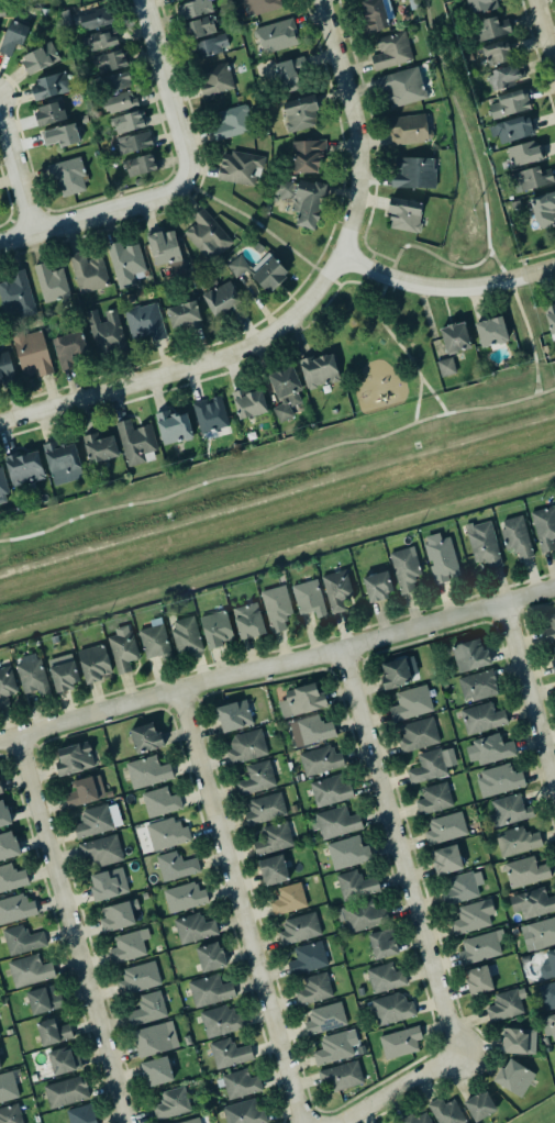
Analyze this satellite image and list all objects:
building: (176, 0)
building: (480, 4)
building: (258, 5)
building: (193, 8)
building: (1, 12)
building: (375, 14)
building: (95, 16)
building: (198, 26)
building: (490, 27)
building: (13, 35)
building: (276, 35)
road: (542, 38)
building: (100, 41)
building: (211, 44)
building: (391, 51)
building: (497, 53)
building: (40, 58)
building: (110, 59)
building: (289, 71)
building: (504, 76)
building: (214, 78)
building: (114, 80)
building: (49, 86)
building: (401, 87)
road: (165, 89)
building: (119, 102)
building: (509, 104)
building: (299, 112)
building: (49, 113)
building: (231, 121)
building: (127, 122)
road: (354, 126)
building: (407, 130)
building: (513, 130)
building: (62, 135)
building: (133, 141)
park: (466, 144)
building: (524, 154)
building: (309, 156)
building: (141, 165)
building: (238, 166)
road: (15, 171)
building: (412, 173)
building: (67, 174)
building: (534, 177)
road: (484, 197)
building: (300, 199)
building: (544, 210)
road: (93, 214)
building: (404, 214)
park: (266, 229)
building: (206, 235)
road: (364, 240)
road: (281, 242)
building: (166, 249)
road: (321, 253)
road: (432, 254)
road: (371, 255)
road: (384, 255)
building: (125, 263)
building: (260, 270)
road: (309, 271)
building: (88, 273)
building: (49, 281)
road: (446, 289)
building: (16, 293)
building: (220, 298)
road: (322, 307)
building: (181, 314)
building: (550, 318)
building: (143, 323)
building: (106, 332)
building: (491, 332)
building: (455, 336)
building: (68, 345)
road: (401, 346)
building: (32, 353)
building: (457, 362)
building: (446, 367)
building: (5, 368)
road: (188, 368)
building: (317, 370)
building: (282, 381)
road: (433, 393)
building: (248, 402)
building: (210, 418)
building: (171, 426)
park: (314, 429)
building: (135, 442)
building: (100, 447)
building: (59, 456)
road: (277, 463)
building: (23, 466)
building: (3, 489)
building: (544, 526)
building: (515, 536)
building: (484, 544)
building: (441, 558)
building: (393, 576)
building: (335, 588)
building: (308, 598)
building: (275, 607)
building: (248, 621)
building: (214, 629)
building: (548, 629)
building: (186, 635)
building: (155, 642)
building: (122, 651)
building: (470, 655)
building: (552, 660)
building: (95, 663)
road: (277, 666)
building: (65, 674)
building: (395, 674)
building: (32, 675)
building: (477, 685)
building: (7, 687)
road: (528, 699)
building: (300, 700)
building: (410, 702)
building: (234, 715)
building: (482, 718)
building: (313, 729)
building: (418, 734)
building: (145, 737)
building: (246, 746)
building: (489, 749)
building: (75, 758)
building: (321, 760)
building: (432, 765)
building: (146, 771)
building: (256, 778)
building: (498, 779)
building: (0, 789)
building: (331, 790)
building: (85, 791)
building: (434, 798)
building: (158, 802)
building: (265, 809)
building: (509, 811)
building: (4, 813)
building: (98, 820)
building: (335, 823)
building: (446, 827)
building: (165, 833)
building: (271, 837)
building: (517, 841)
building: (8, 845)
building: (100, 852)
building: (346, 852)
building: (446, 859)
building: (175, 866)
building: (274, 869)
building: (523, 870)
building: (10, 877)
building: (107, 883)
building: (354, 885)
building: (460, 887)
building: (182, 897)
building: (288, 899)
building: (532, 902)
building: (15, 907)
road: (238, 907)
building: (116, 914)
building: (364, 915)
road: (415, 915)
building: (471, 915)
building: (192, 927)
building: (298, 927)
road: (69, 930)
building: (542, 932)
building: (22, 939)
building: (381, 944)
building: (129, 946)
building: (480, 946)
building: (209, 957)
building: (308, 958)
building: (547, 966)
building: (30, 970)
building: (137, 977)
building: (384, 977)
building: (477, 980)
building: (312, 988)
building: (210, 990)
building: (547, 993)
building: (43, 1000)
building: (507, 1004)
building: (390, 1008)
building: (147, 1009)
building: (323, 1018)
building: (221, 1021)
building: (548, 1025)
building: (53, 1032)
building: (154, 1039)
building: (512, 1041)
building: (399, 1042)
building: (335, 1047)
building: (227, 1053)
building: (64, 1060)
building: (0, 1069)
building: (155, 1071)
building: (341, 1076)
building: (513, 1077)
building: (241, 1083)
building: (7, 1087)
building: (65, 1090)
building: (170, 1103)
building: (478, 1107)
building: (245, 1112)
building: (447, 1112)
building: (11, 1114)
building: (81, 1114)
building: (417, 1119)
building: (190, 1120)

